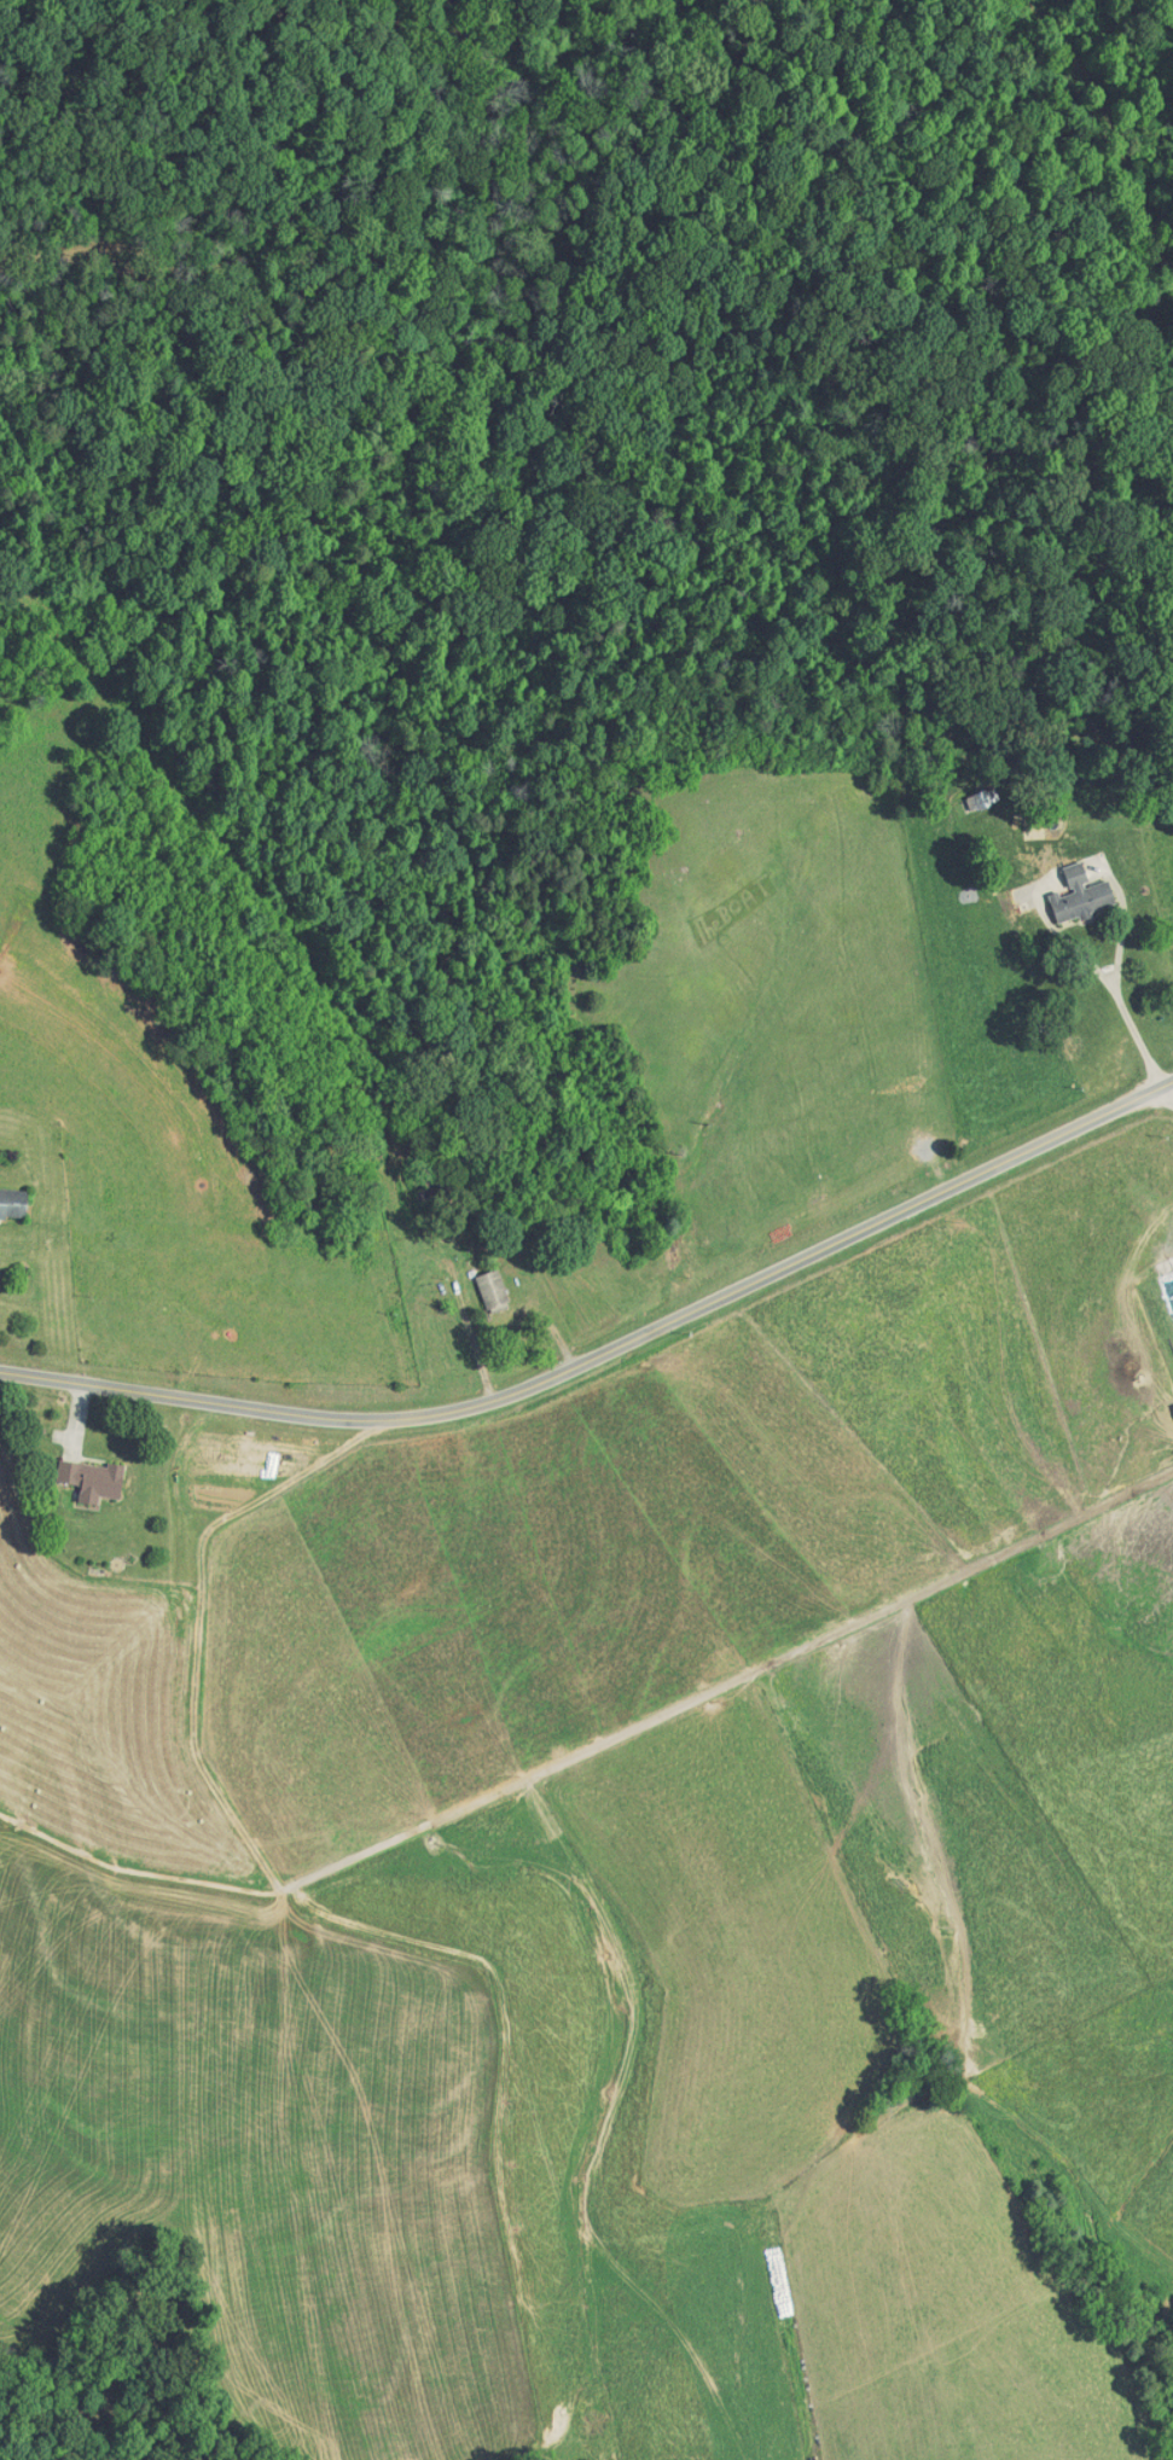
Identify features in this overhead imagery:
building: (1080, 895)
road: (1137, 1031)
building: (12, 1200)
building: (492, 1287)
road: (606, 1343)
building: (91, 1477)

